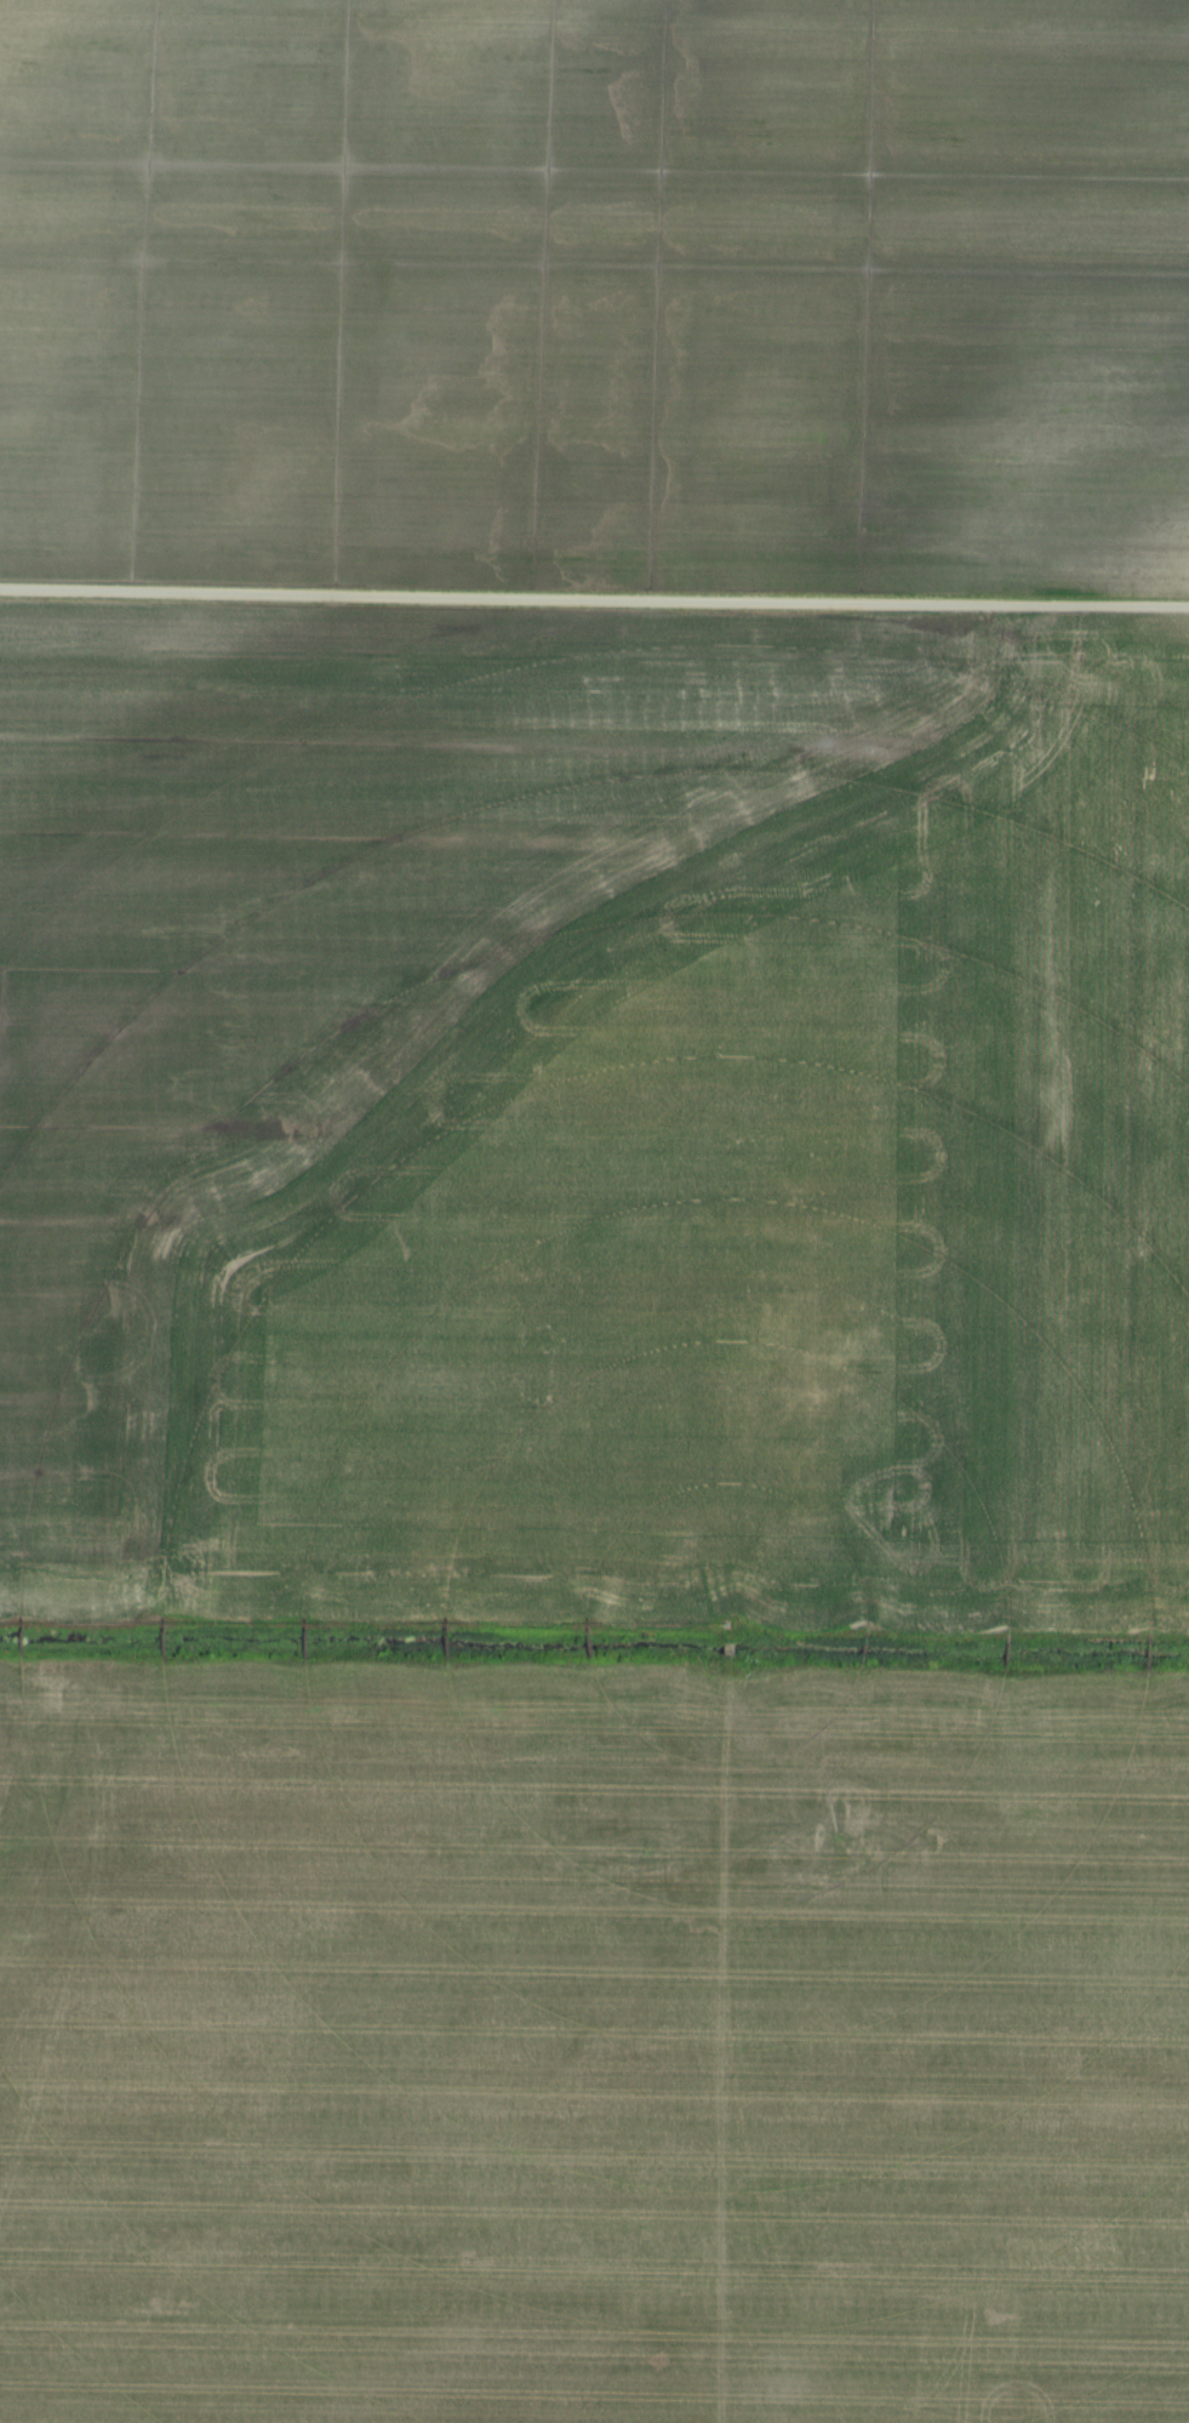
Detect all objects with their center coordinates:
road: (594, 602)

